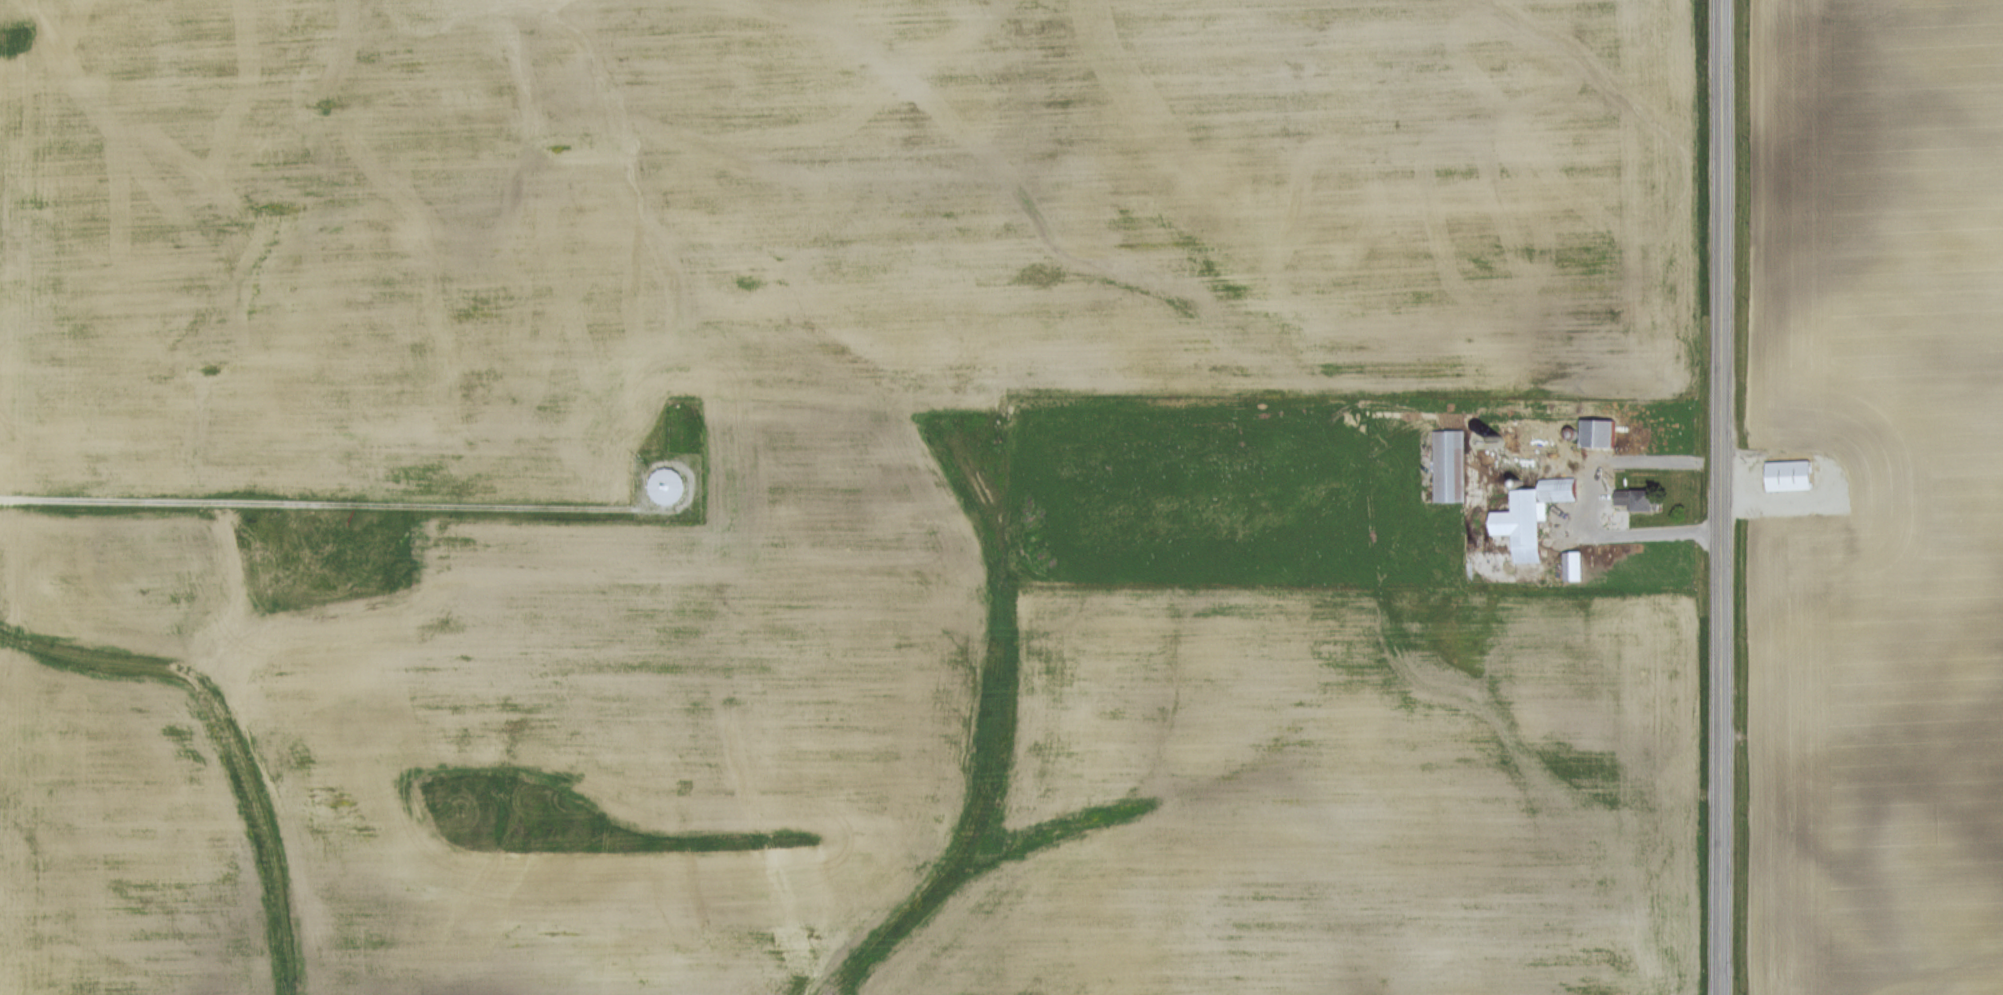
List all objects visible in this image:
building: (1594, 433)
building: (1448, 465)
building: (1785, 475)
building: (662, 484)
road: (1722, 497)
building: (1632, 499)
building: (1527, 515)
road: (1625, 529)
building: (1835, 529)

